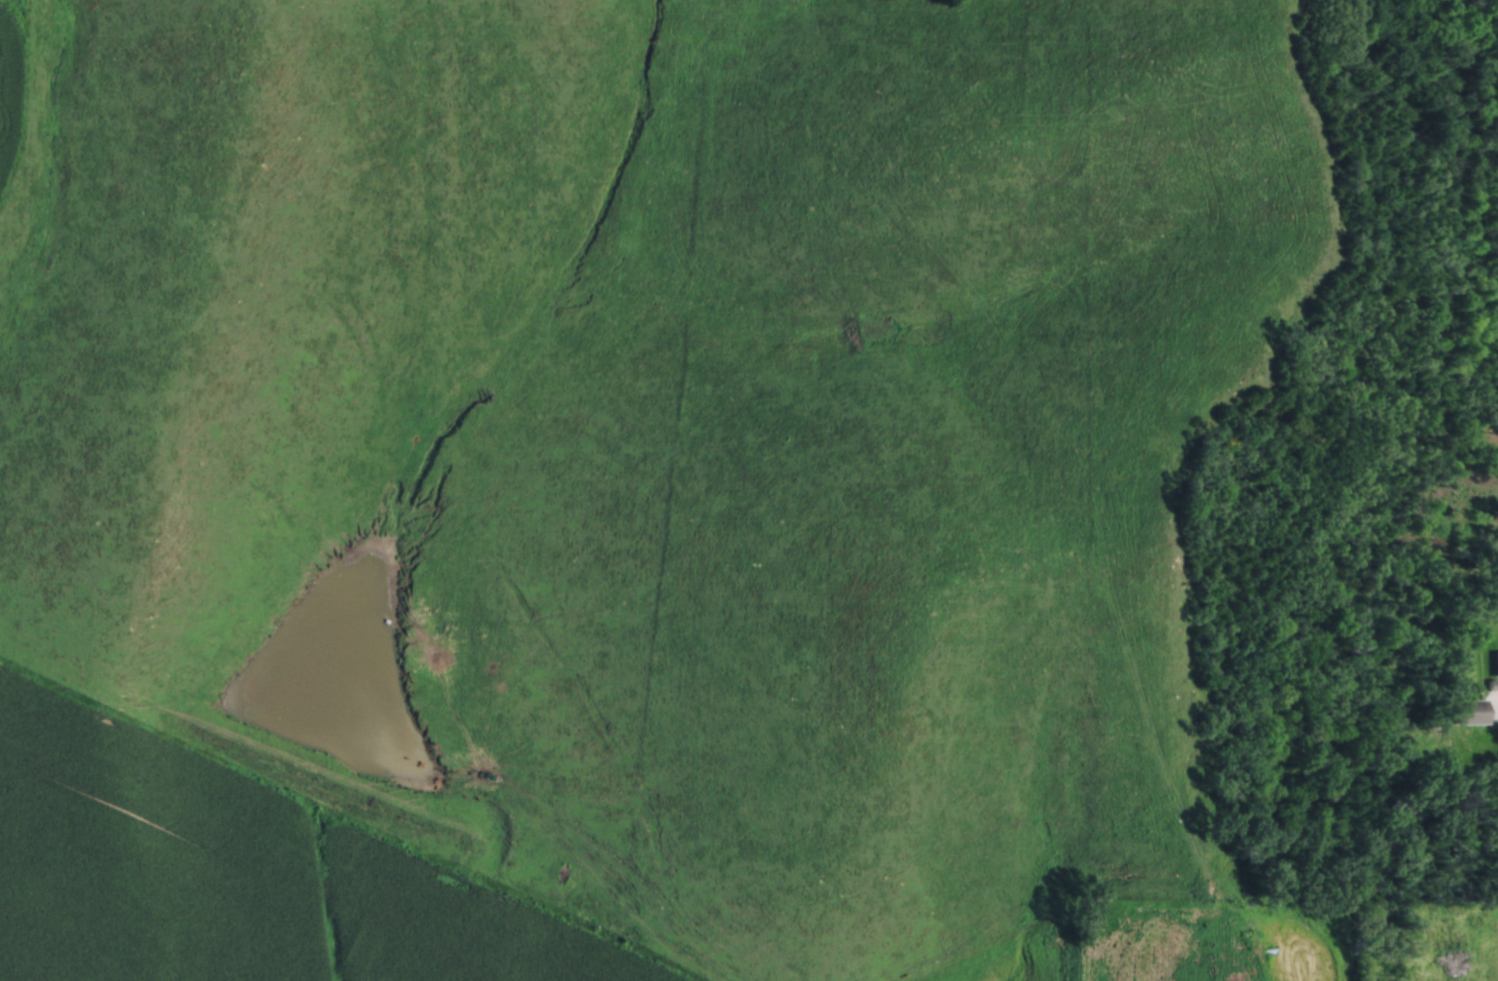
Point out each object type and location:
building: (1497, 649)
building: (1473, 706)

